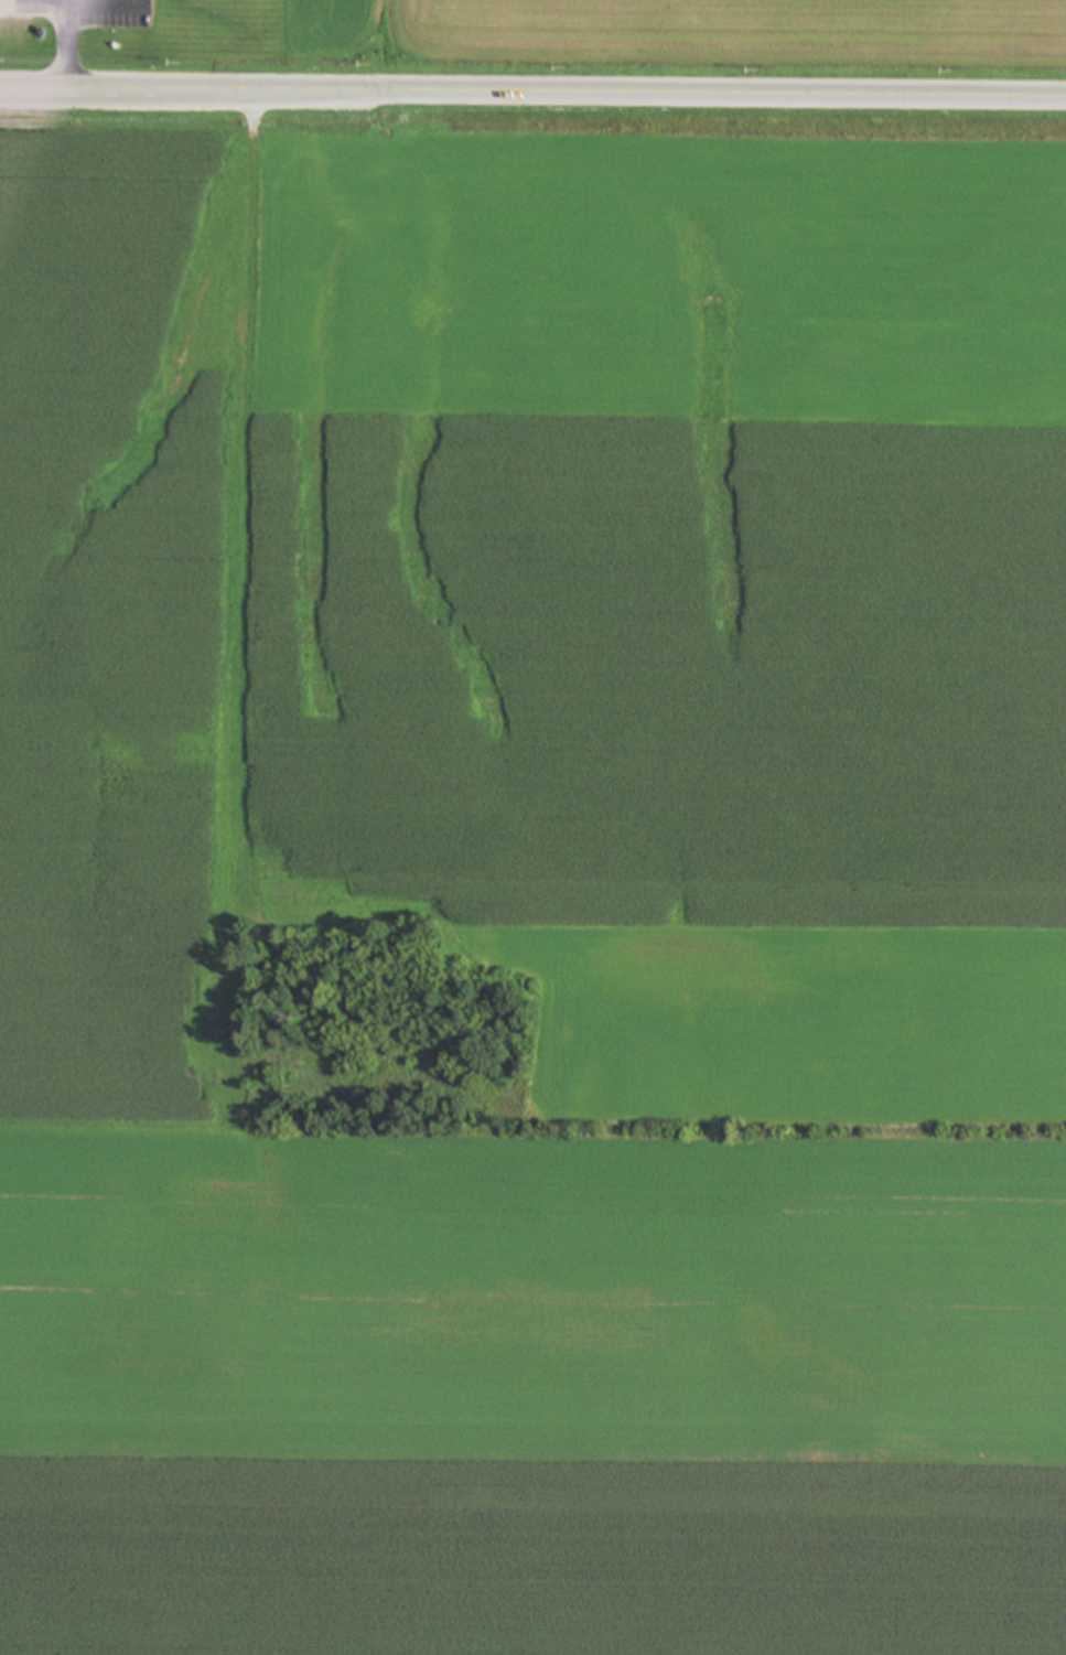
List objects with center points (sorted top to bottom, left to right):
road: (532, 92)

